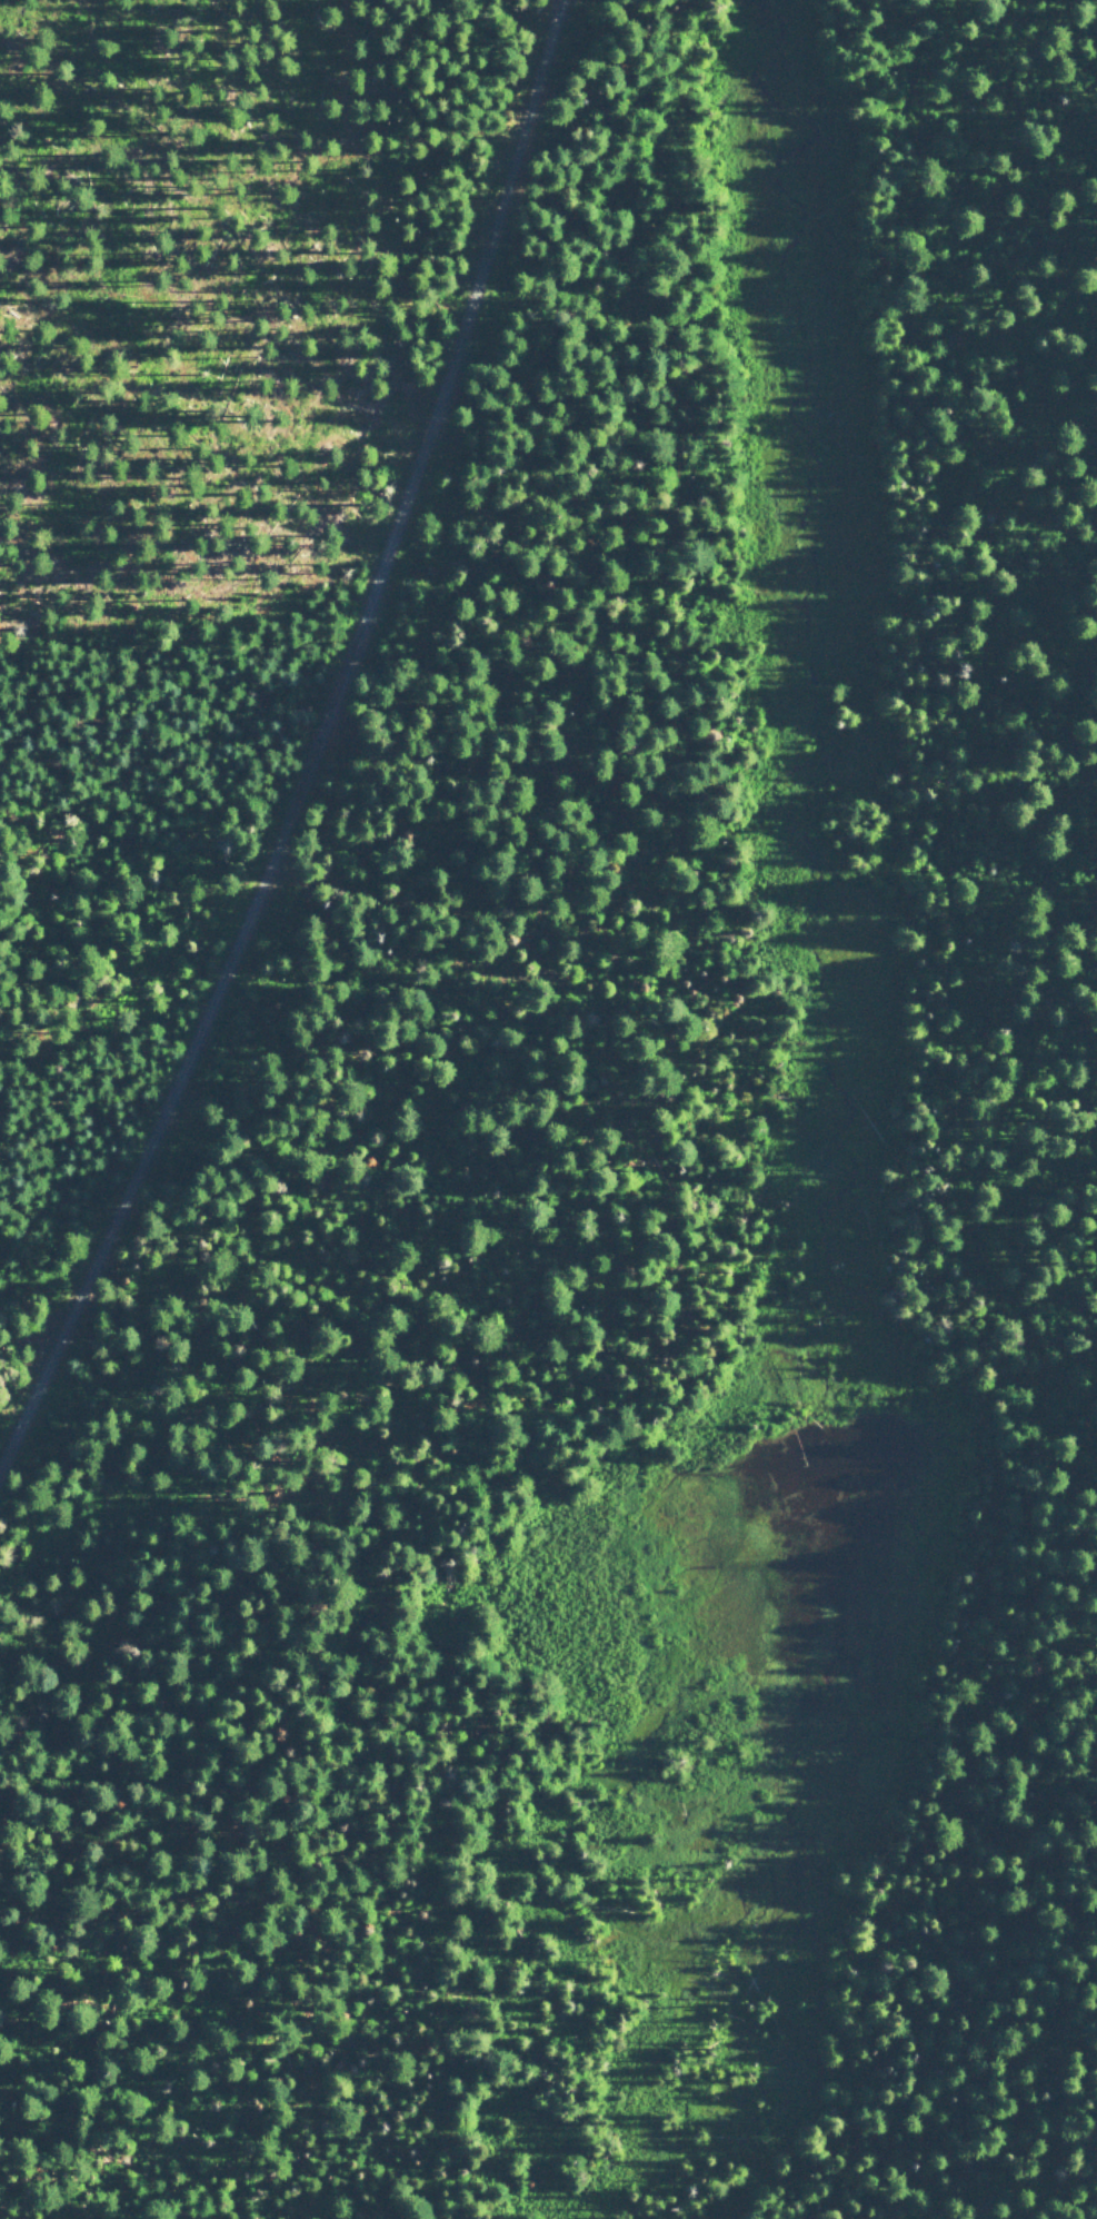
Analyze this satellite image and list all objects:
road: (316, 736)

